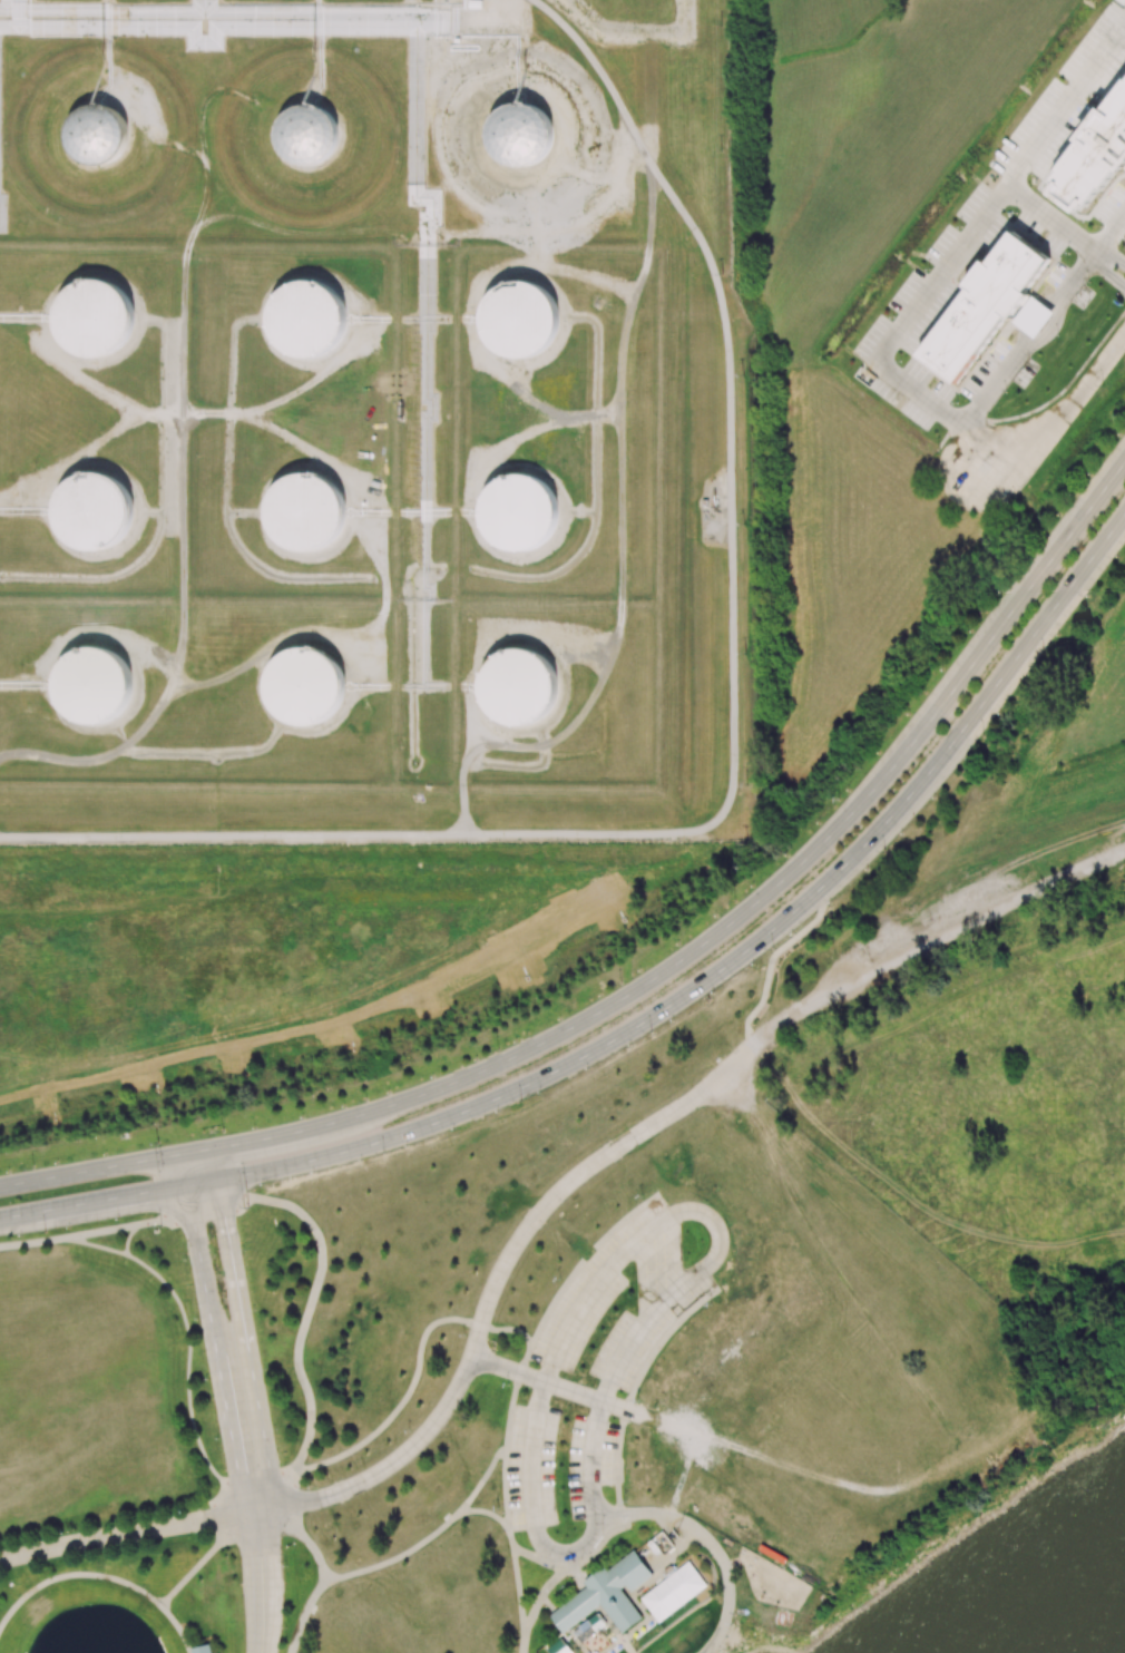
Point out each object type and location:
building: (96, 135)
building: (522, 135)
building: (307, 137)
building: (1095, 156)
road: (1050, 218)
road: (1109, 233)
road: (955, 254)
road: (1109, 256)
road: (1107, 272)
road: (1070, 281)
building: (984, 309)
building: (95, 317)
storage tank: (95, 317)
building: (309, 320)
storage tank: (309, 320)
building: (520, 320)
storage tank: (520, 320)
road: (1038, 322)
road: (996, 379)
road: (1063, 412)
building: (95, 511)
storage tank: (95, 511)
building: (305, 512)
storage tank: (305, 512)
building: (519, 513)
storage tank: (519, 513)
road: (988, 638)
road: (1000, 676)
building: (95, 686)
storage tank: (95, 686)
building: (306, 687)
storage tank: (306, 687)
building: (518, 689)
storage tank: (518, 689)
road: (750, 904)
road: (773, 926)
road: (771, 958)
road: (428, 1090)
road: (636, 1133)
traffic signals: (238, 1143)
road: (348, 1152)
road: (97, 1167)
traffic signals: (147, 1192)
road: (190, 1213)
traffic signals: (224, 1215)
road: (101, 1232)
road: (33, 1242)
parking lot: (669, 1293)
road: (243, 1327)
road: (214, 1330)
road: (297, 1337)
road: (626, 1343)
road: (415, 1359)
road: (559, 1387)
park: (546, 1392)
parking lot: (530, 1465)
parking lot: (590, 1466)
road: (440, 1526)
road: (127, 1532)
road: (301, 1534)
road: (708, 1540)
road: (675, 1548)
road: (511, 1553)
road: (540, 1559)
road: (575, 1569)
road: (100, 1575)
road: (262, 1581)
building: (674, 1591)
road: (541, 1593)
building: (607, 1595)
road: (302, 1613)
road: (521, 1642)
building: (203, 1649)

